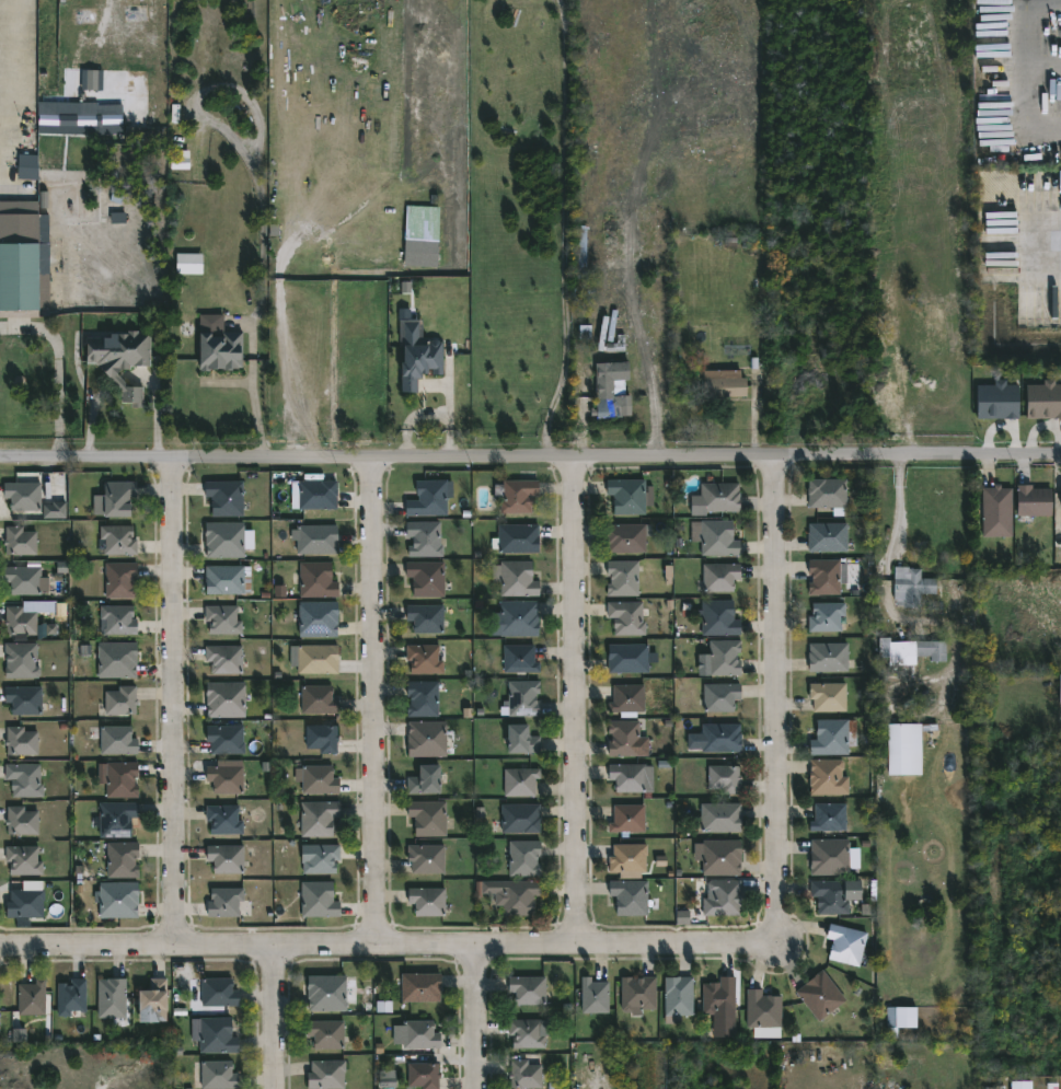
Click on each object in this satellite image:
road: (1045, 68)
building: (92, 80)
road: (1028, 81)
building: (80, 119)
building: (27, 167)
building: (416, 239)
road: (1048, 245)
building: (189, 265)
building: (18, 277)
road: (281, 346)
building: (219, 349)
building: (417, 356)
building: (118, 359)
road: (57, 369)
building: (723, 384)
road: (562, 385)
building: (611, 391)
building: (997, 401)
building: (1042, 401)
road: (449, 407)
road: (256, 412)
road: (157, 413)
road: (414, 420)
road: (92, 424)
road: (530, 456)
building: (315, 494)
building: (828, 494)
building: (25, 495)
building: (519, 495)
building: (626, 496)
building: (117, 498)
building: (224, 498)
building: (716, 498)
building: (427, 499)
building: (1030, 500)
building: (54, 511)
building: (996, 511)
road: (899, 515)
building: (722, 537)
building: (828, 537)
building: (423, 538)
building: (625, 538)
building: (120, 540)
building: (223, 540)
building: (315, 540)
building: (516, 540)
building: (21, 541)
building: (719, 576)
building: (428, 577)
building: (823, 577)
building: (518, 578)
building: (25, 579)
building: (319, 579)
building: (622, 579)
building: (119, 580)
building: (226, 580)
building: (908, 587)
building: (426, 617)
building: (826, 617)
building: (318, 618)
building: (626, 618)
building: (718, 618)
building: (221, 619)
building: (515, 619)
building: (22, 621)
building: (117, 621)
building: (910, 651)
building: (828, 657)
building: (724, 658)
building: (313, 659)
building: (519, 659)
building: (627, 659)
building: (20, 660)
building: (117, 660)
building: (223, 660)
building: (424, 660)
building: (1060, 686)
building: (828, 696)
building: (719, 697)
building: (422, 699)
building: (522, 699)
building: (626, 699)
building: (24, 700)
building: (224, 700)
building: (318, 700)
building: (119, 702)
road: (785, 702)
road: (583, 703)
road: (182, 704)
road: (382, 704)
building: (624, 738)
building: (720, 738)
building: (833, 738)
building: (321, 739)
building: (118, 740)
building: (427, 740)
building: (21, 741)
building: (224, 741)
building: (521, 741)
building: (904, 750)
building: (827, 777)
building: (628, 778)
building: (722, 778)
building: (26, 779)
building: (226, 779)
building: (315, 779)
building: (120, 780)
building: (422, 783)
building: (519, 783)
building: (718, 818)
building: (829, 818)
building: (318, 819)
building: (427, 819)
building: (520, 819)
building: (118, 820)
building: (223, 820)
building: (627, 820)
building: (21, 821)
building: (829, 857)
building: (226, 858)
building: (426, 858)
building: (723, 858)
building: (321, 859)
building: (523, 859)
building: (22, 860)
building: (120, 860)
building: (627, 860)
building: (832, 895)
building: (512, 896)
building: (628, 897)
building: (316, 899)
building: (723, 899)
building: (117, 901)
building: (426, 901)
building: (223, 902)
building: (27, 903)
building: (845, 943)
road: (384, 952)
building: (419, 987)
building: (527, 989)
building: (218, 992)
building: (637, 992)
building: (328, 993)
building: (595, 995)
building: (718, 995)
building: (821, 995)
building: (70, 996)
building: (111, 997)
building: (31, 998)
building: (678, 998)
building: (150, 999)
building: (763, 1015)
building: (900, 1019)
road: (280, 1020)
road: (485, 1020)
building: (325, 1033)
building: (524, 1033)
building: (19, 1035)
building: (216, 1035)
building: (420, 1035)
building: (325, 1075)
building: (423, 1075)
building: (524, 1075)
building: (220, 1076)
building: (388, 1079)
building: (1020, 1085)

